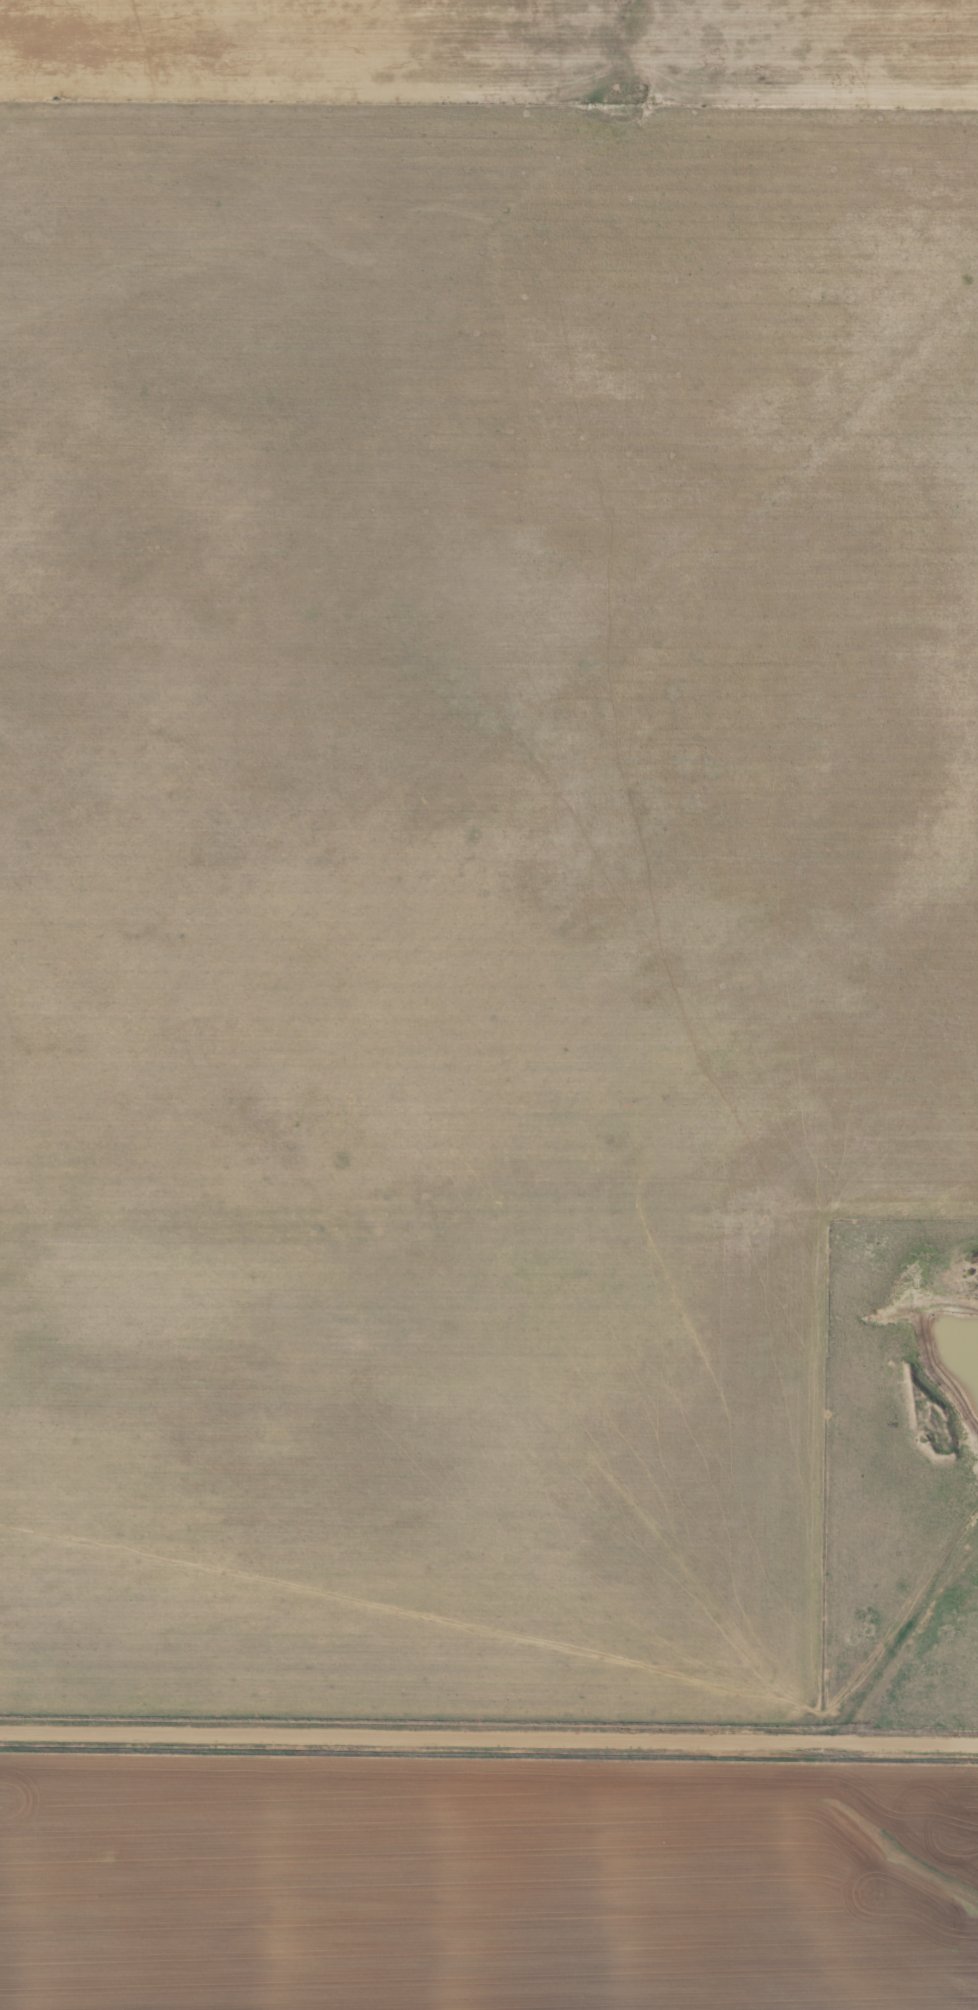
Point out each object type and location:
road: (489, 1753)

